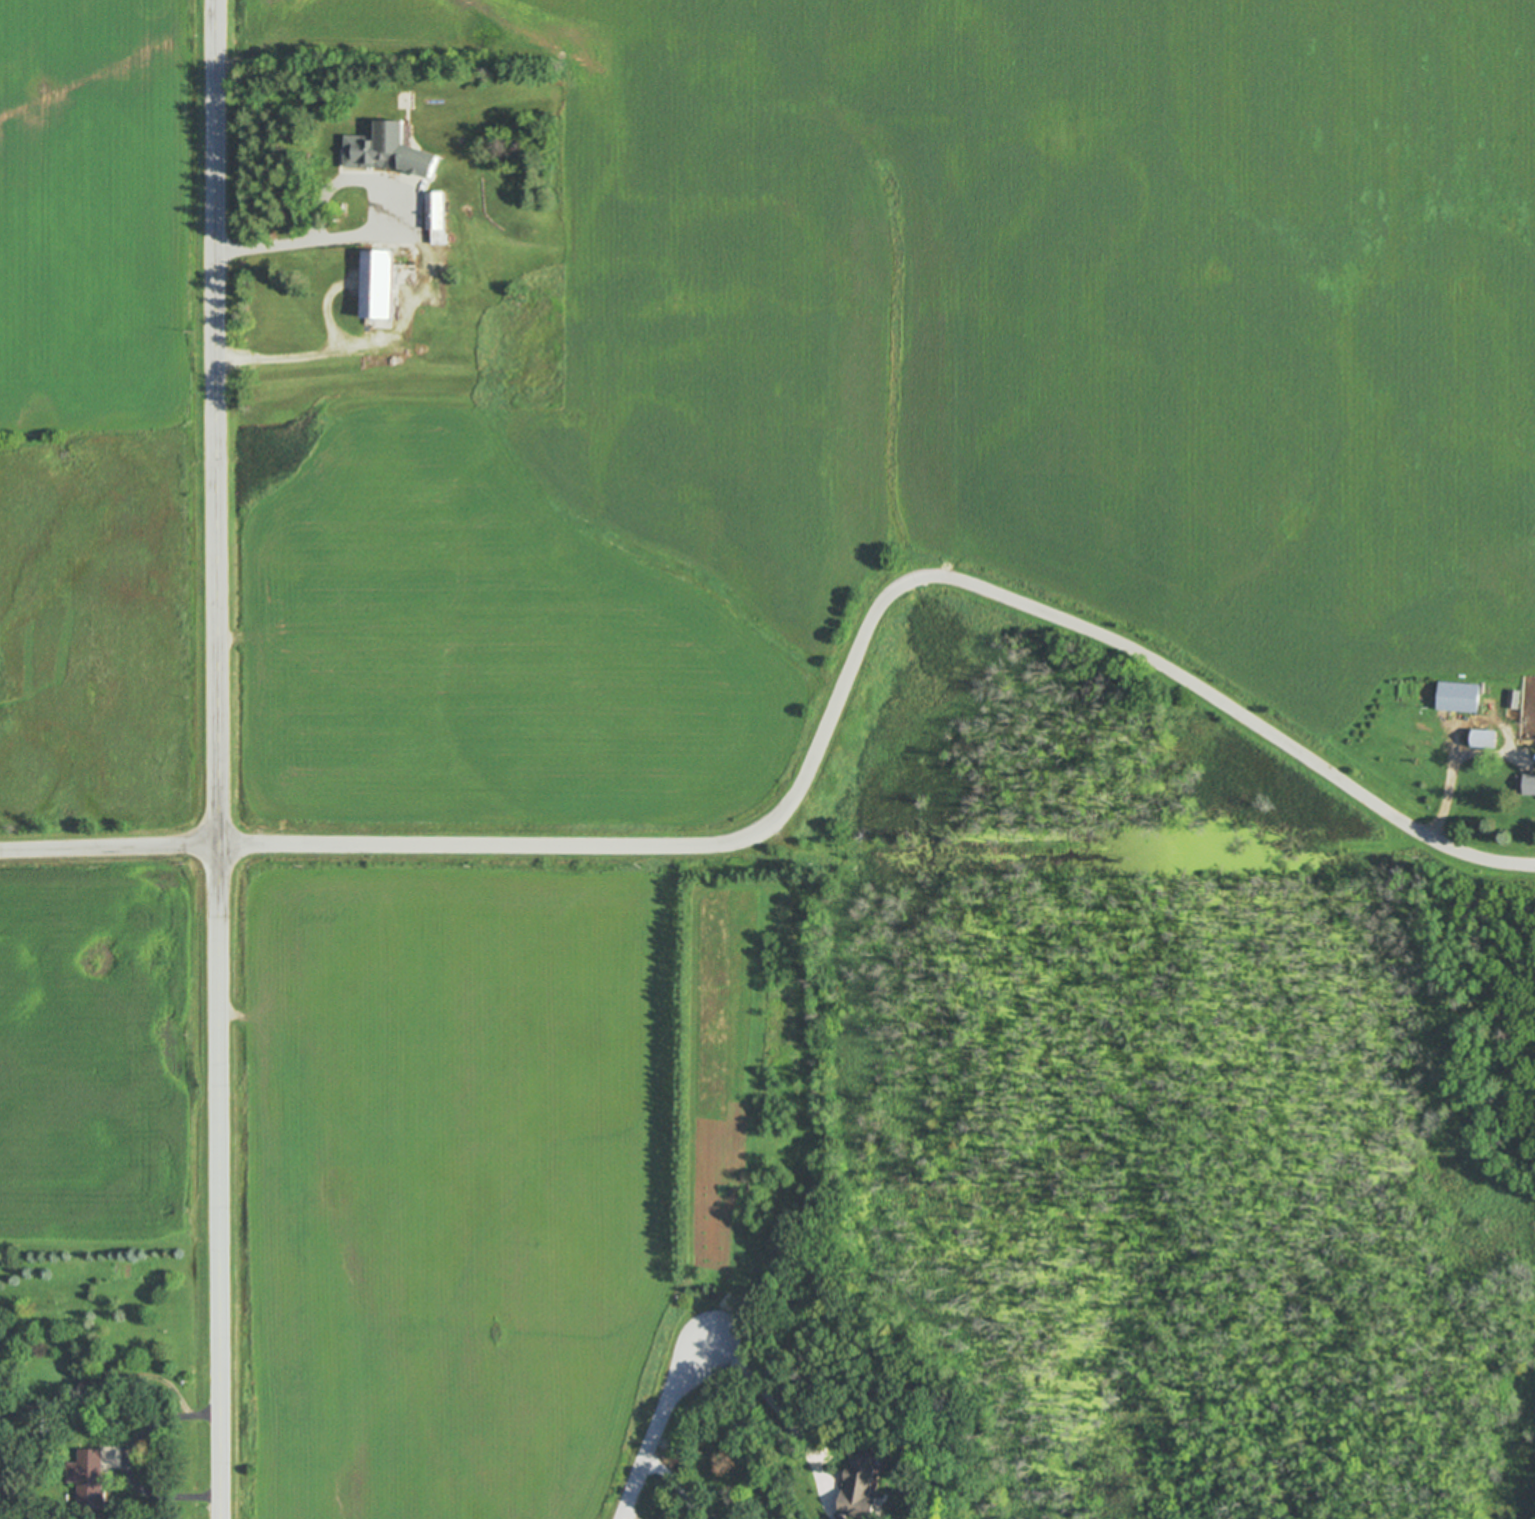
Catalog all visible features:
building: (386, 152)
building: (435, 218)
road: (370, 230)
building: (375, 286)
road: (384, 344)
road: (863, 633)
building: (1457, 698)
building: (1512, 700)
building: (1482, 740)
road: (217, 759)
building: (1529, 786)
road: (1447, 788)
road: (109, 848)
road: (783, 1401)
building: (41, 1416)
road: (660, 1423)
road: (128, 1461)
building: (88, 1478)
road: (681, 1483)
building: (858, 1489)

